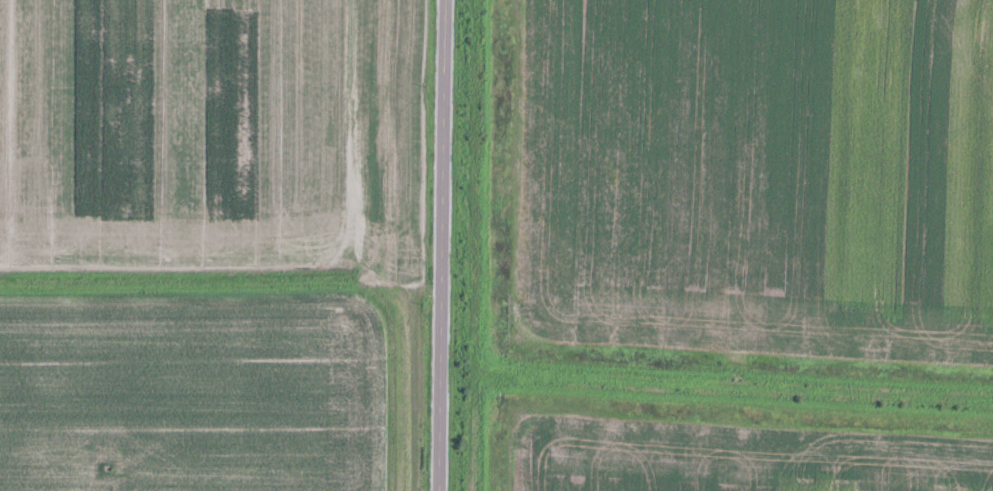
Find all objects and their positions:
road: (444, 245)

